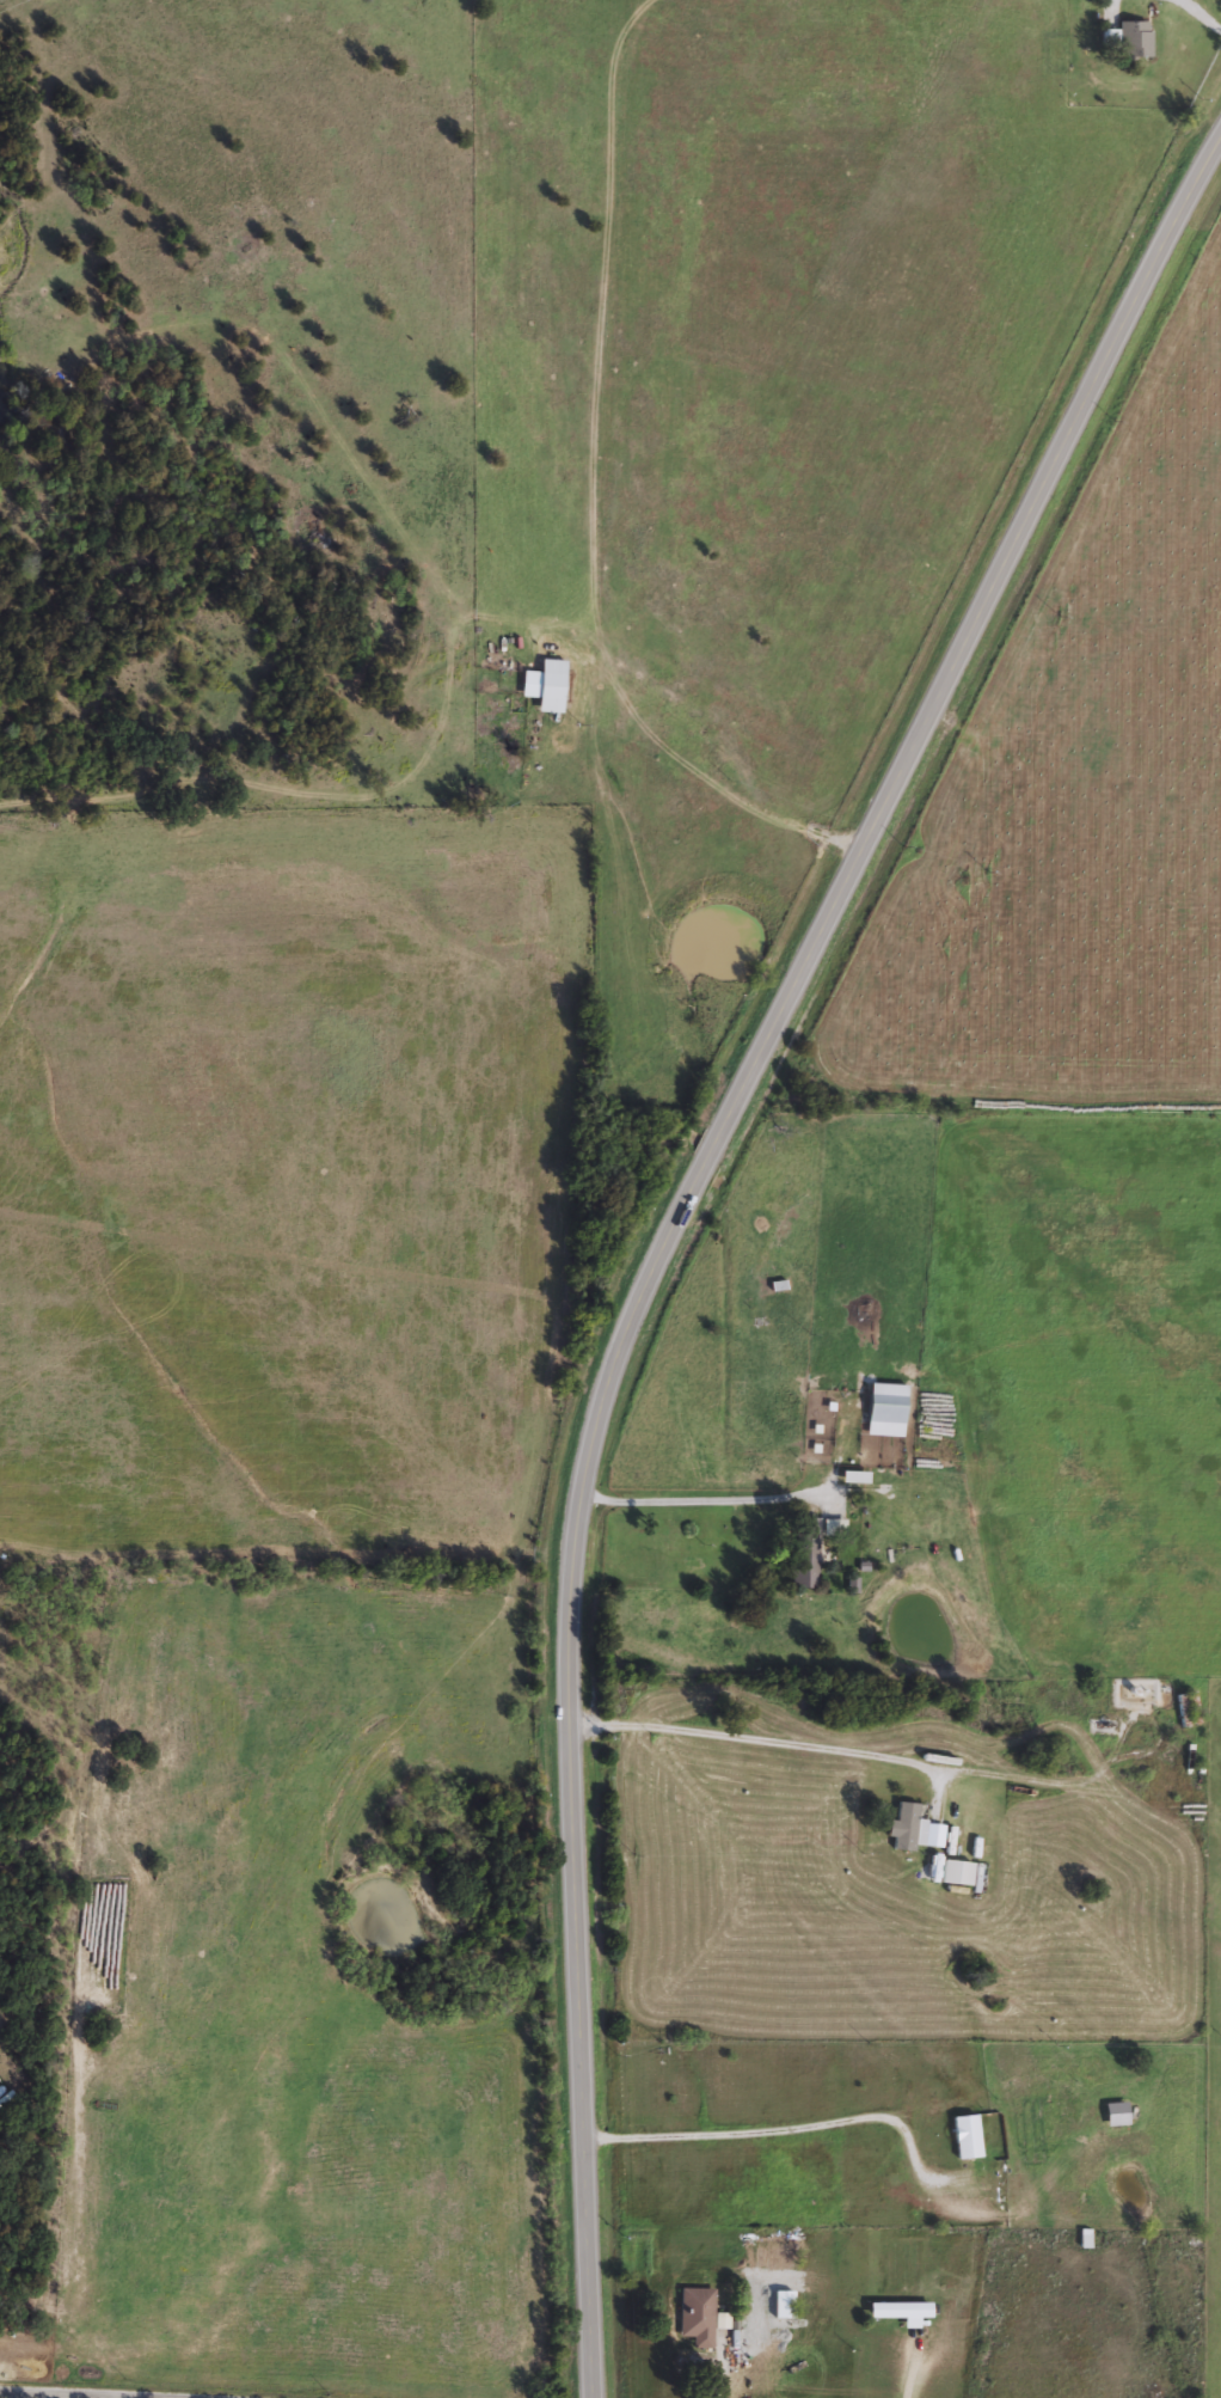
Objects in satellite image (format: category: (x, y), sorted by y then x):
road: (1196, 16)
building: (1130, 38)
building: (541, 685)
building: (949, 900)
road: (680, 1213)
building: (881, 1407)
building: (848, 1475)
building: (830, 1527)
building: (799, 1552)
road: (846, 1750)
building: (902, 1827)
building: (951, 1871)
road: (775, 2129)
building: (962, 2135)
building: (1080, 2238)
building: (781, 2261)
building: (780, 2304)
building: (895, 2311)
building: (694, 2316)
road: (2, 2391)
road: (36, 2394)

